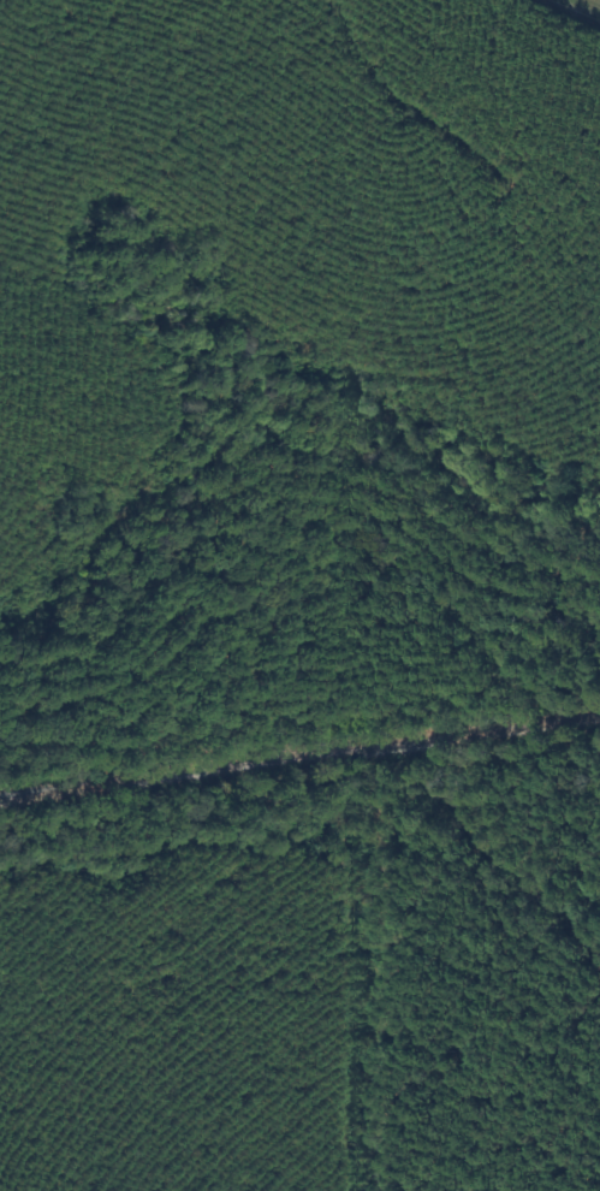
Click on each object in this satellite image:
railway: (299, 756)

